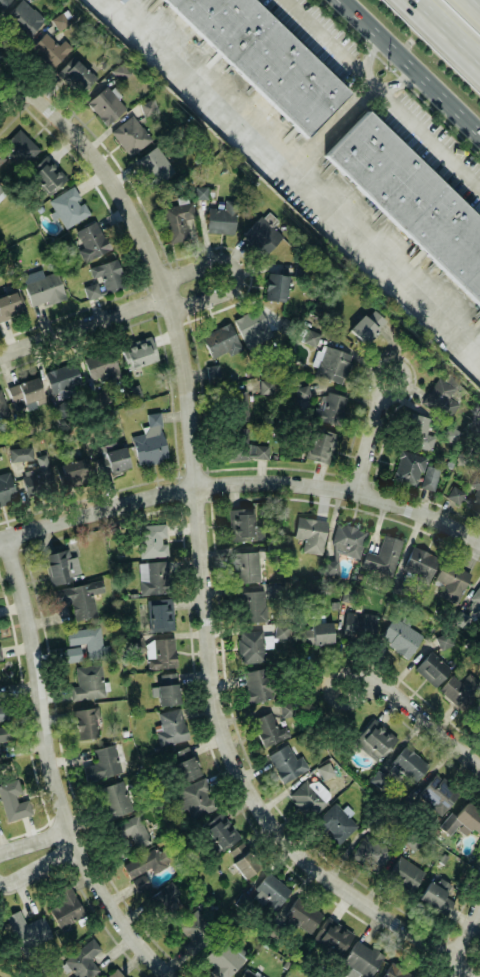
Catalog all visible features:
building: (2, 2)
road: (476, 3)
building: (22, 18)
building: (60, 19)
road: (452, 25)
building: (47, 48)
building: (265, 57)
road: (410, 67)
building: (120, 70)
building: (74, 74)
road: (370, 79)
road: (383, 93)
road: (13, 100)
building: (104, 104)
building: (148, 105)
road: (330, 125)
building: (129, 135)
building: (17, 147)
building: (153, 165)
building: (46, 174)
road: (297, 175)
building: (200, 191)
building: (1, 193)
building: (410, 199)
building: (67, 206)
building: (223, 217)
building: (176, 219)
building: (260, 235)
building: (91, 239)
road: (239, 274)
building: (101, 278)
building: (274, 286)
building: (42, 288)
building: (8, 306)
building: (249, 322)
road: (82, 325)
building: (367, 325)
building: (311, 336)
building: (219, 340)
building: (137, 352)
building: (332, 363)
building: (99, 364)
building: (212, 369)
building: (61, 377)
building: (264, 385)
building: (302, 390)
building: (24, 392)
road: (380, 394)
building: (440, 397)
building: (235, 405)
building: (2, 406)
building: (329, 408)
building: (417, 432)
building: (449, 433)
building: (149, 441)
road: (369, 443)
building: (319, 445)
building: (242, 446)
building: (19, 452)
building: (114, 458)
building: (407, 467)
building: (71, 470)
building: (428, 477)
building: (36, 480)
building: (5, 489)
road: (341, 489)
building: (454, 494)
building: (474, 495)
road: (96, 509)
building: (239, 523)
building: (309, 533)
building: (152, 540)
building: (346, 540)
road: (199, 548)
building: (382, 555)
building: (418, 563)
building: (60, 566)
building: (245, 566)
building: (154, 577)
building: (450, 580)
building: (348, 594)
building: (476, 595)
building: (79, 598)
building: (251, 607)
building: (159, 614)
building: (478, 615)
building: (358, 625)
building: (281, 629)
building: (315, 633)
building: (399, 635)
building: (84, 644)
building: (250, 646)
building: (160, 652)
building: (0, 653)
building: (430, 668)
building: (87, 682)
building: (257, 684)
building: (166, 688)
building: (456, 691)
road: (354, 699)
building: (287, 707)
building: (3, 711)
building: (476, 711)
road: (424, 721)
building: (85, 723)
building: (170, 726)
building: (266, 728)
building: (4, 733)
building: (373, 737)
building: (284, 761)
building: (103, 762)
building: (408, 763)
building: (182, 764)
building: (325, 769)
road: (51, 773)
building: (379, 777)
building: (437, 793)
building: (309, 796)
building: (196, 797)
building: (114, 798)
building: (12, 800)
building: (468, 818)
building: (334, 823)
building: (218, 831)
building: (127, 834)
road: (65, 841)
building: (370, 852)
building: (241, 858)
building: (140, 868)
building: (404, 873)
building: (271, 890)
building: (435, 896)
building: (165, 901)
building: (64, 905)
building: (300, 915)
building: (195, 927)
building: (26, 929)
building: (332, 935)
road: (463, 939)
building: (223, 958)
building: (361, 958)
building: (82, 959)
building: (395, 971)
building: (114, 973)
building: (249, 973)

